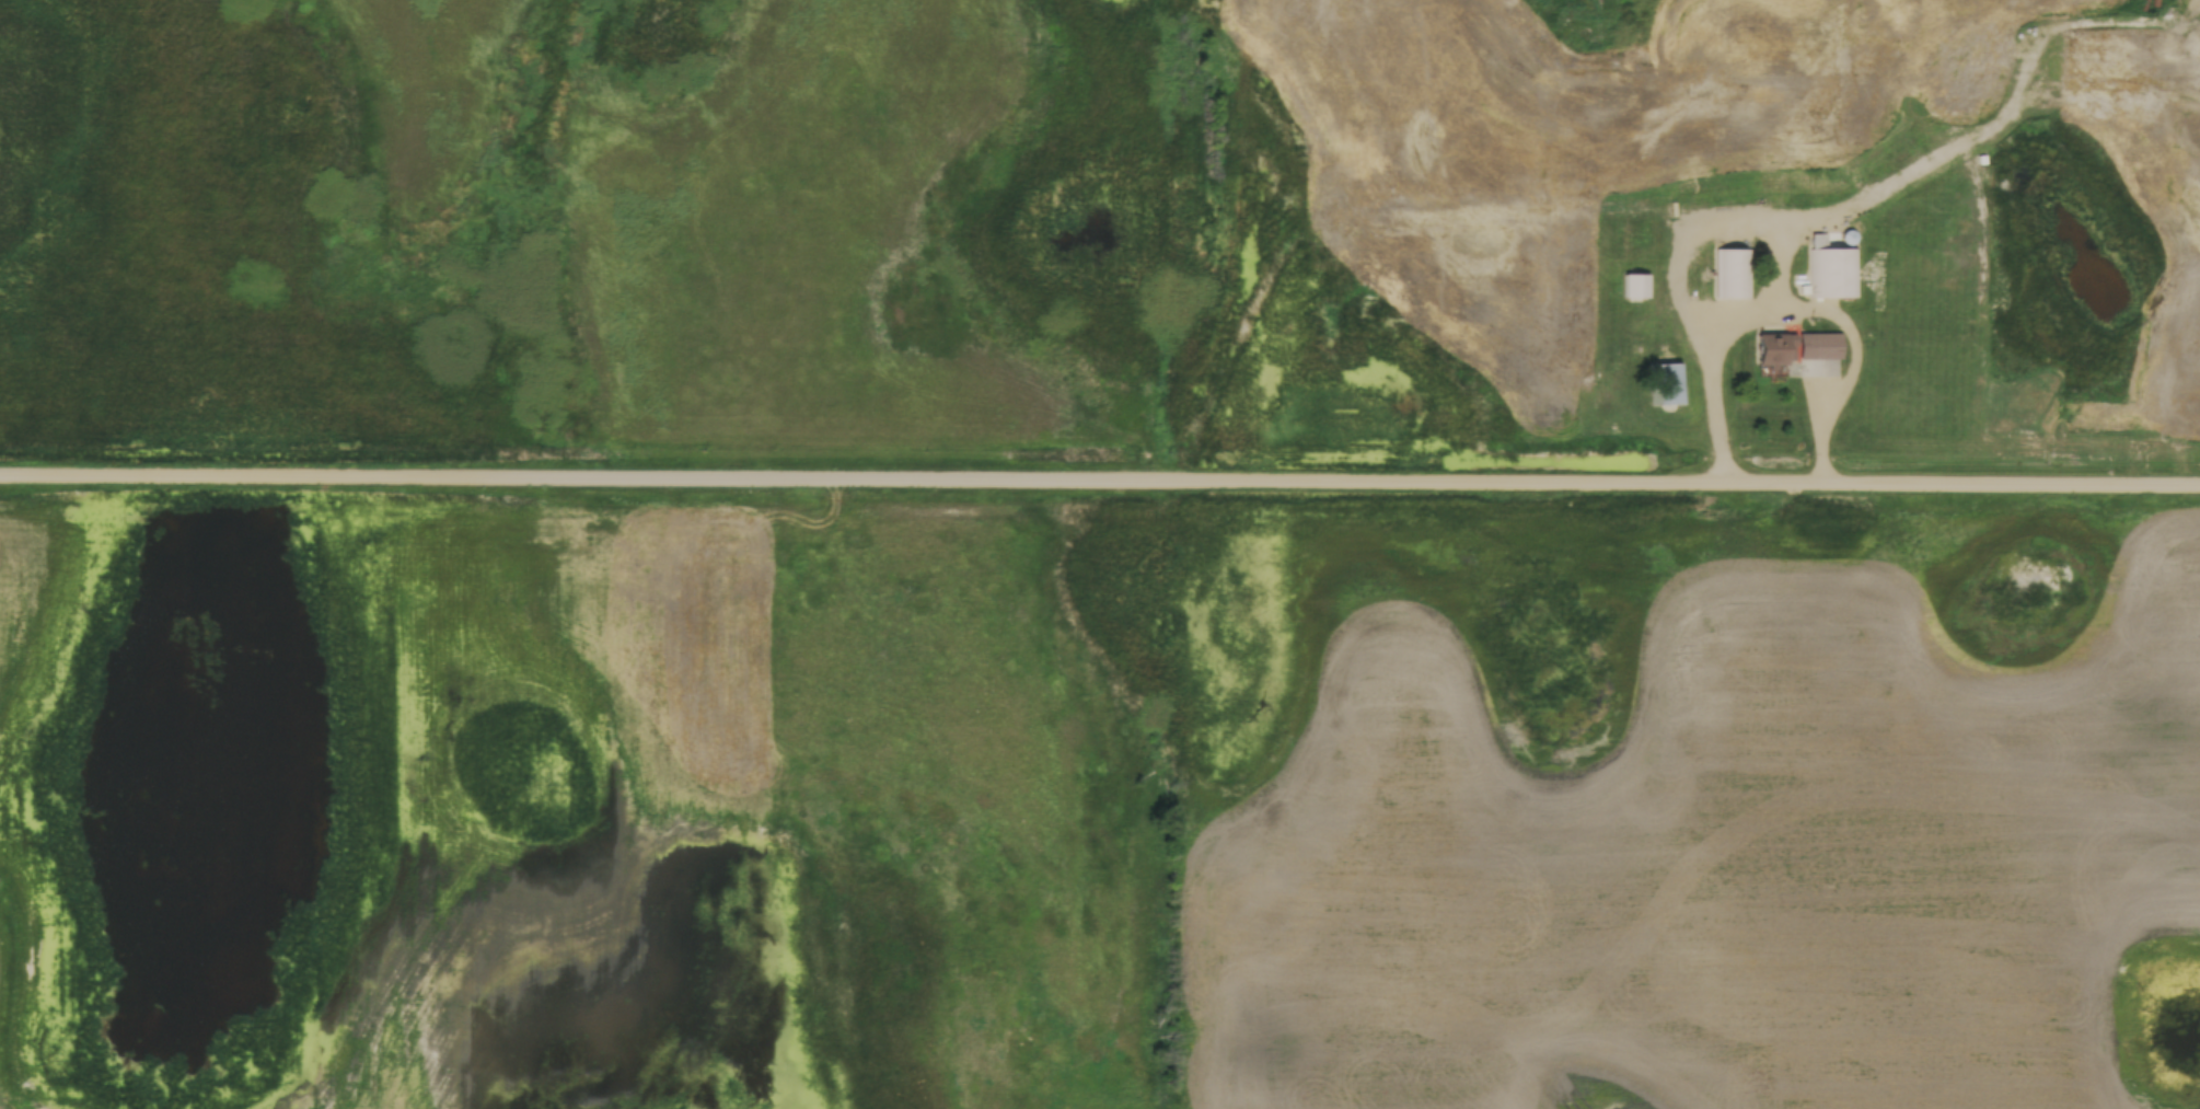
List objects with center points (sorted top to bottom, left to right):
building: (1729, 272)
building: (1832, 272)
building: (1632, 284)
building: (1794, 345)
building: (1665, 383)
road: (1099, 484)

